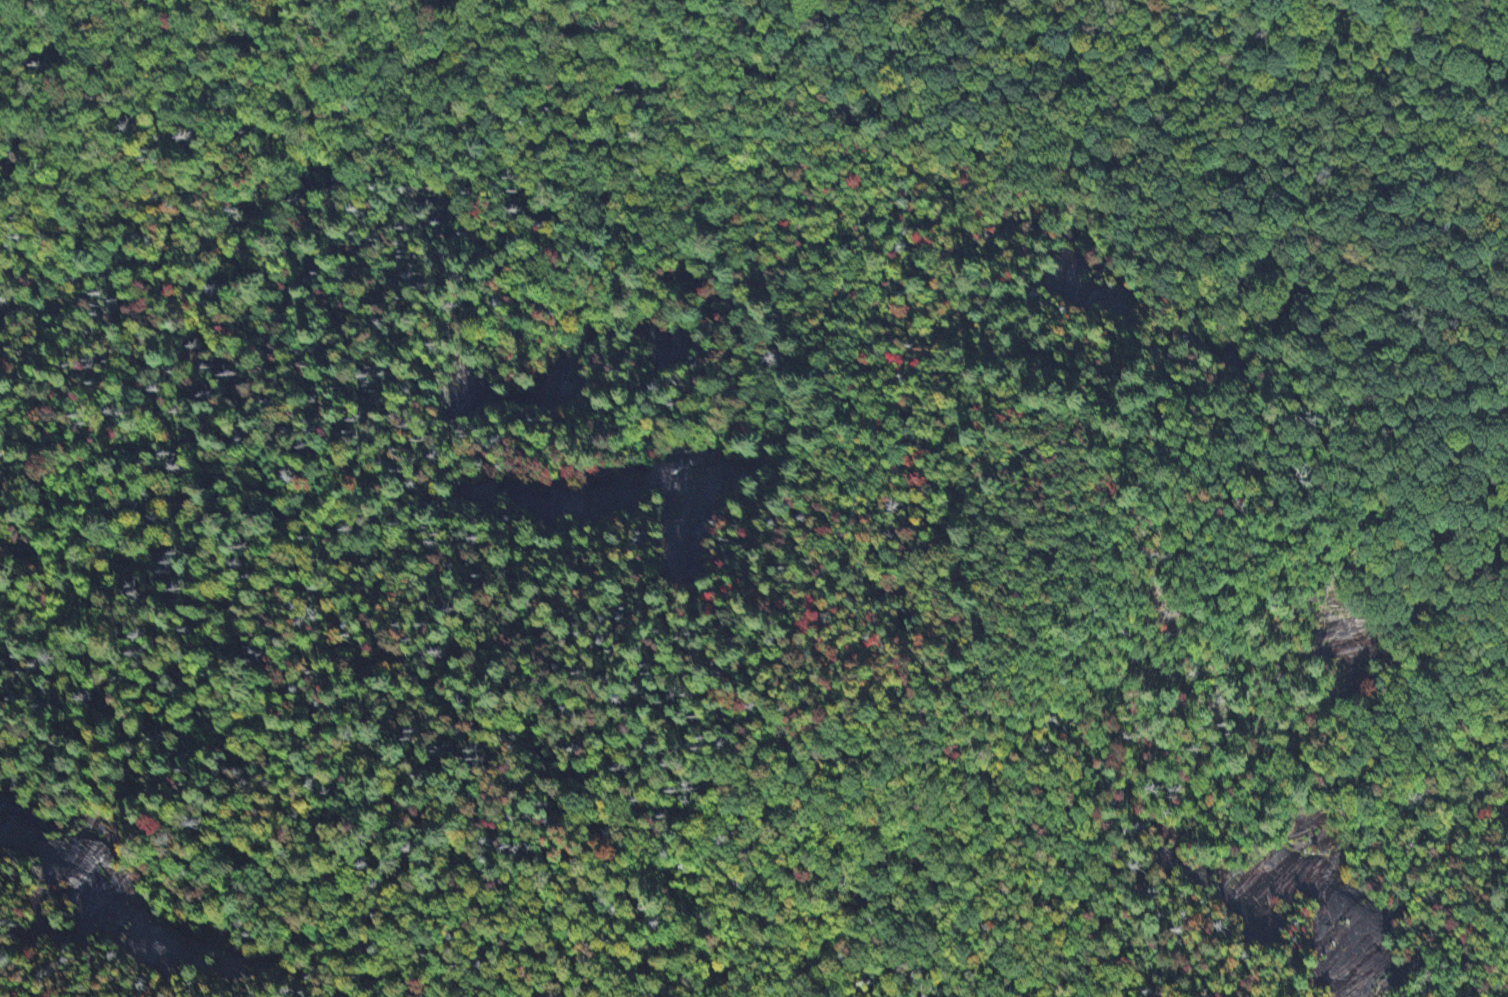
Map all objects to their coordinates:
park: (768, 506)

